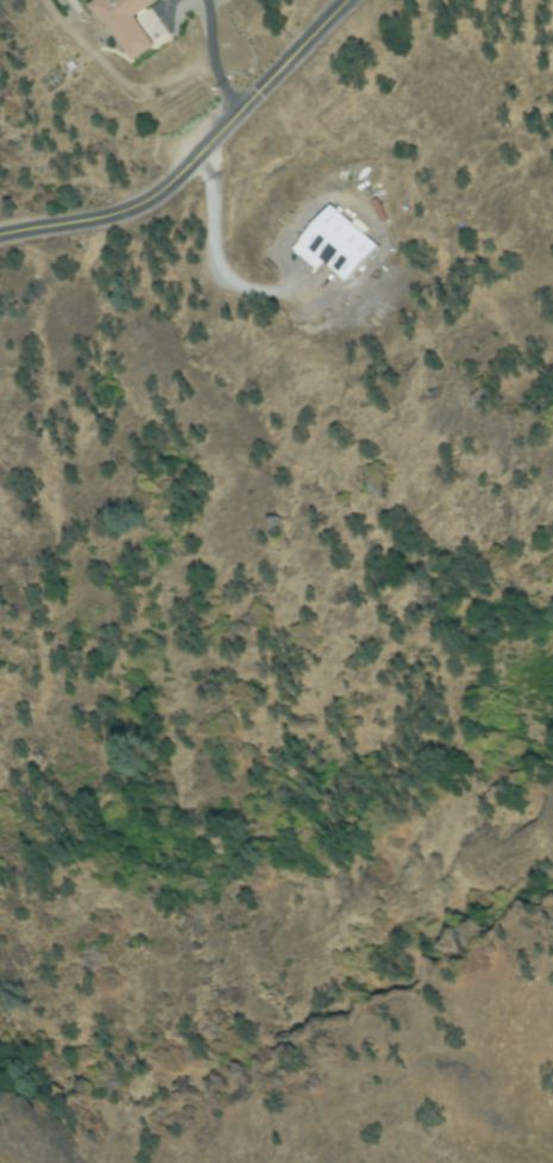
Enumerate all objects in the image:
road: (201, 26)
building: (122, 29)
road: (111, 85)
road: (196, 160)
building: (335, 258)
road: (206, 267)

